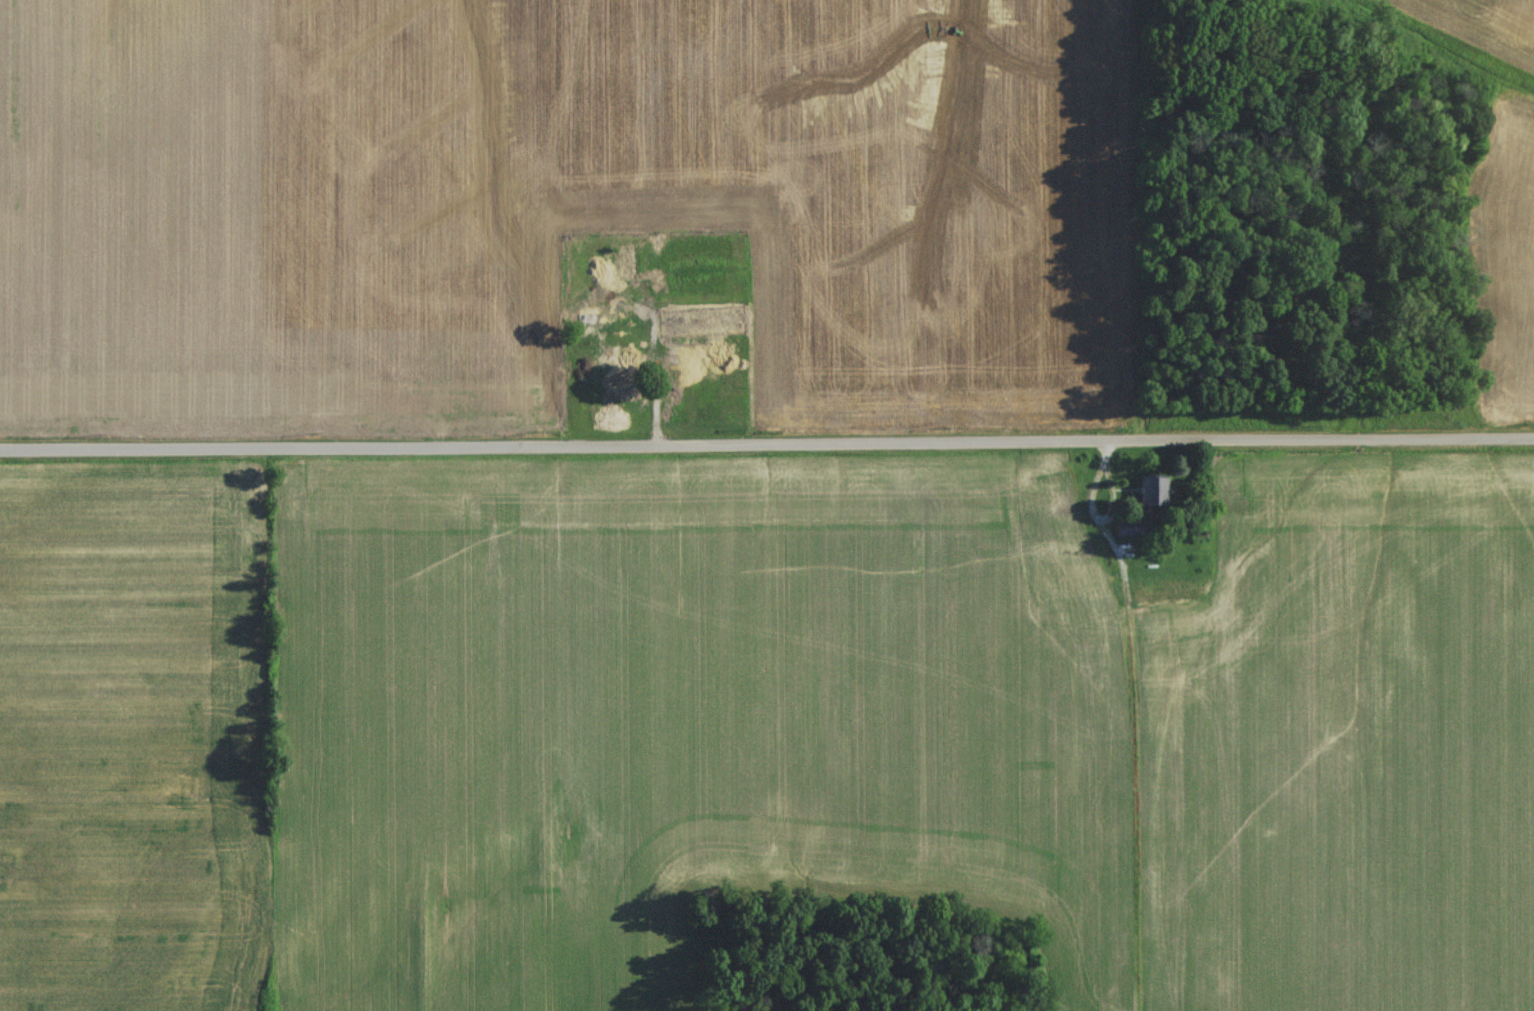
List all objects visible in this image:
building: (696, 326)
road: (767, 442)
building: (1147, 495)
building: (1040, 501)
road: (1106, 518)

